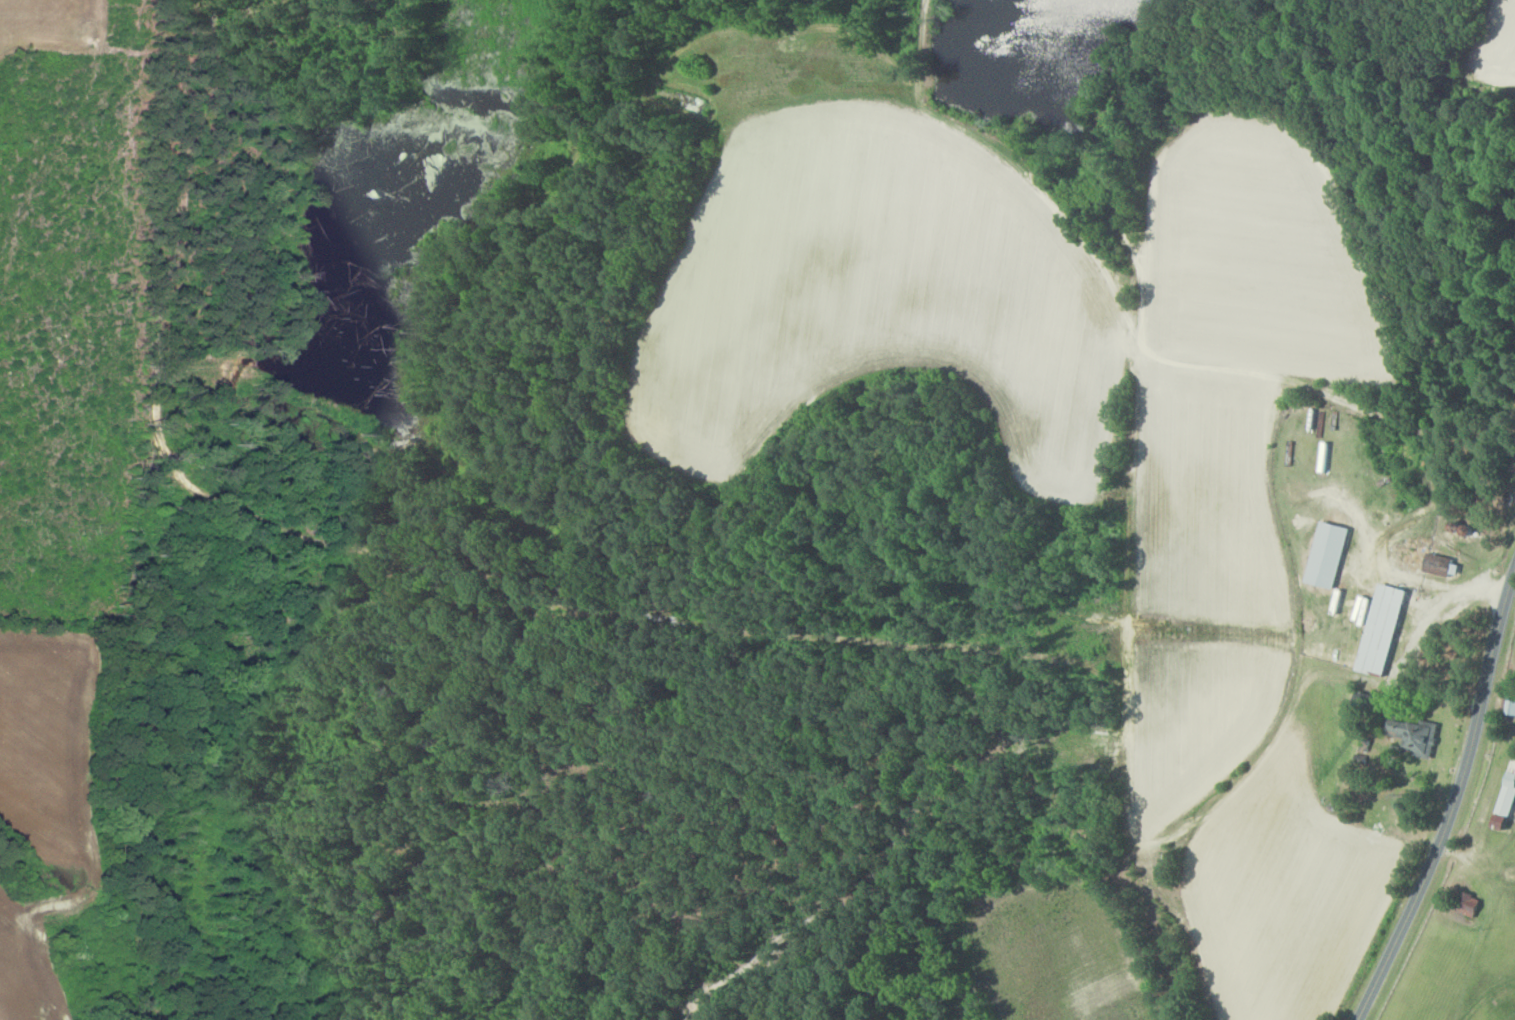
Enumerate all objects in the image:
building: (1330, 555)
building: (1441, 565)
road: (1406, 575)
road: (1455, 595)
building: (1384, 630)
building: (1512, 704)
building: (1416, 735)
building: (1365, 748)
road: (1454, 799)
building: (1507, 800)
building: (1472, 904)

